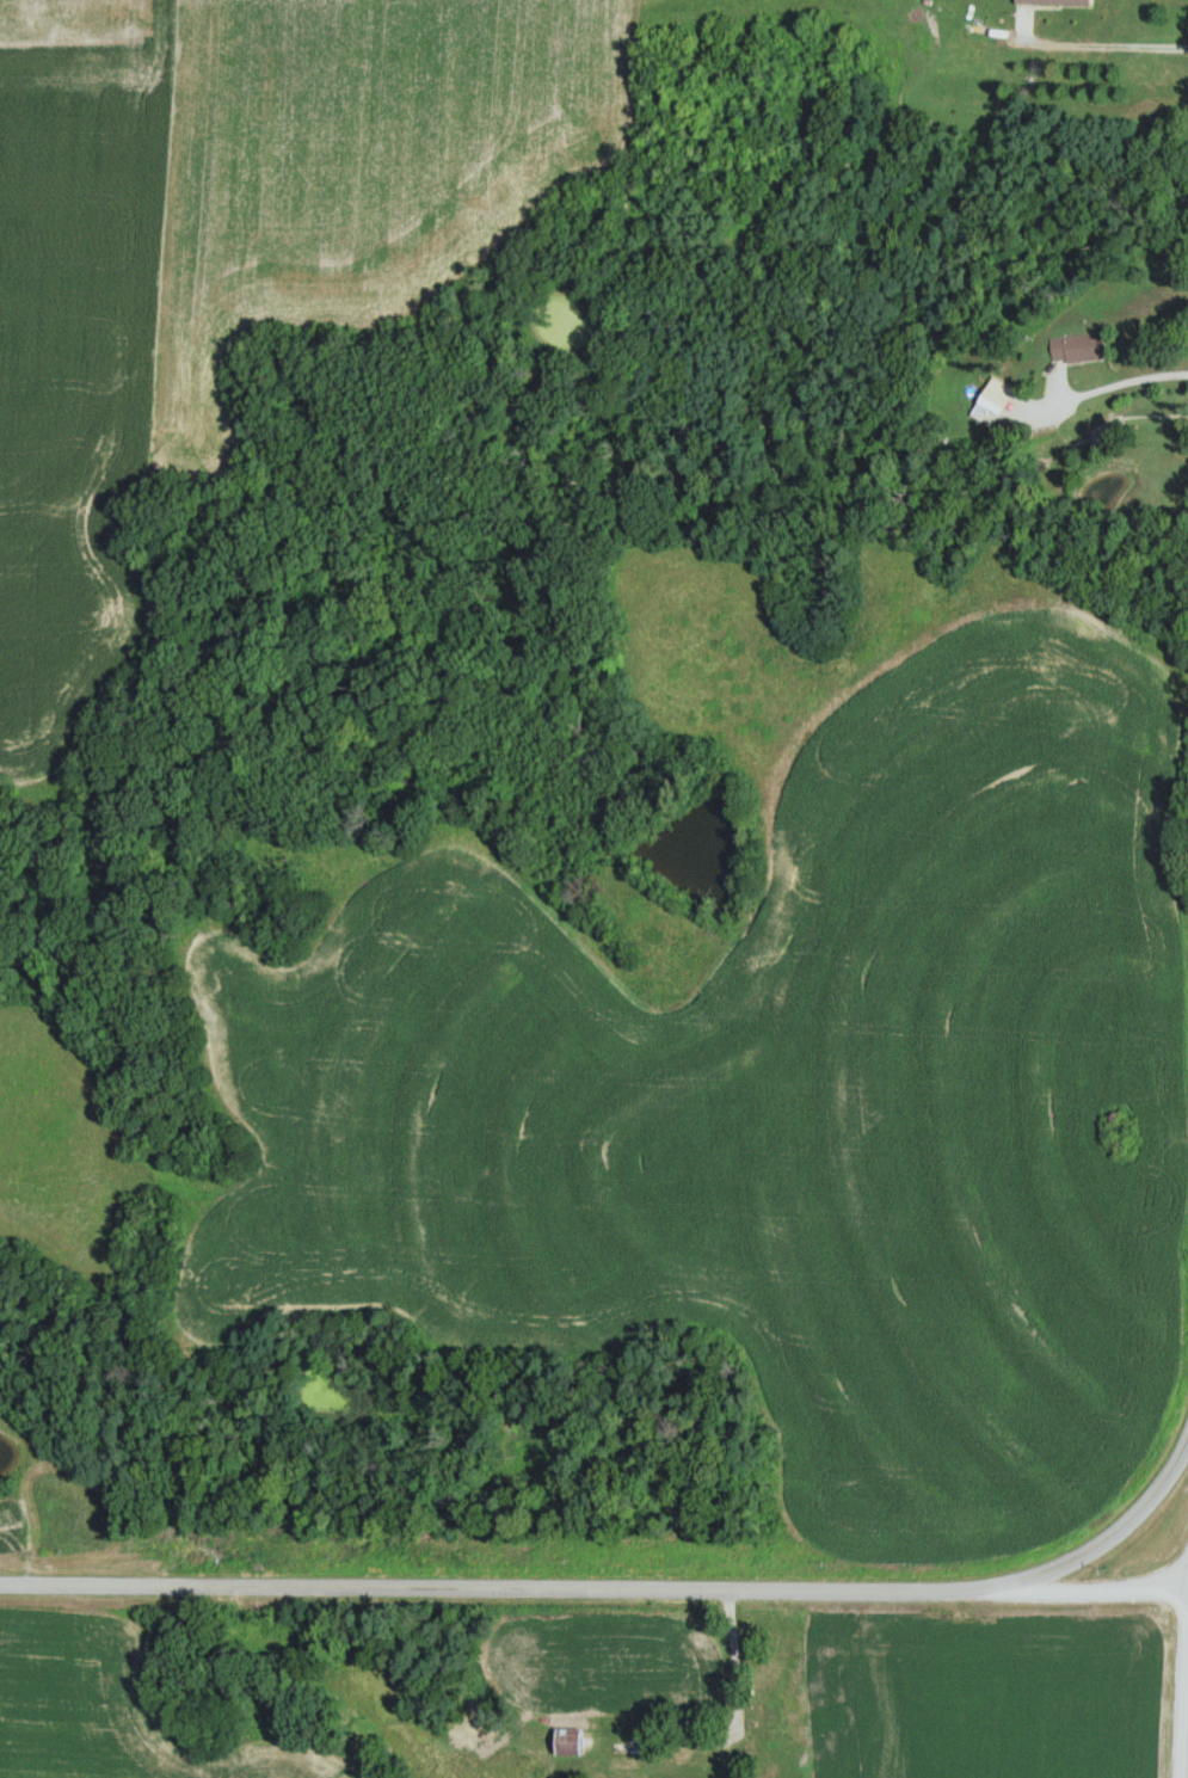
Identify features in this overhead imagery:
building: (1055, 2)
road: (1106, 43)
building: (1079, 347)
road: (1101, 389)
building: (997, 398)
building: (1181, 487)
road: (624, 1587)
road: (1072, 1592)
road: (735, 1674)
road: (1182, 1678)
building: (775, 1700)

